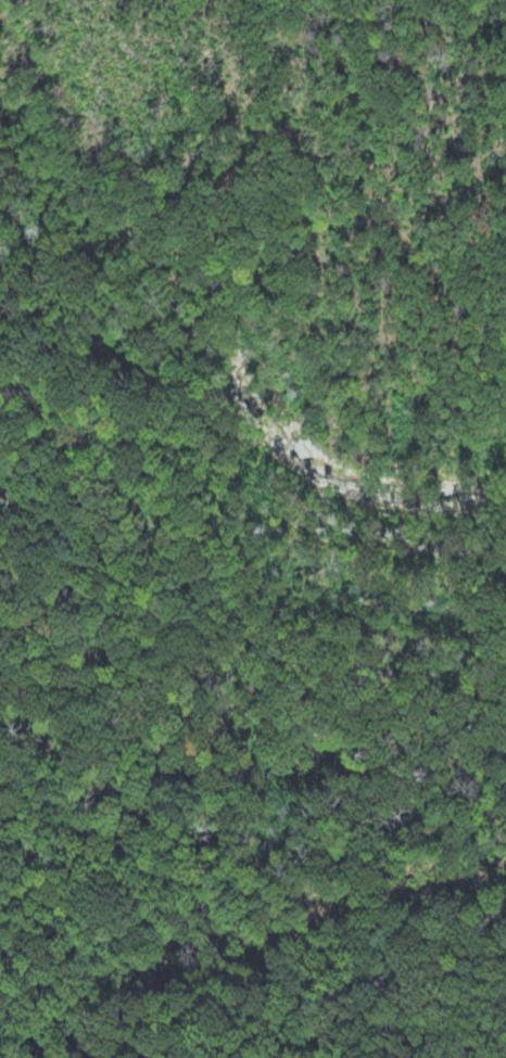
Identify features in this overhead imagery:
road: (414, 133)
road: (245, 501)
park: (253, 528)

